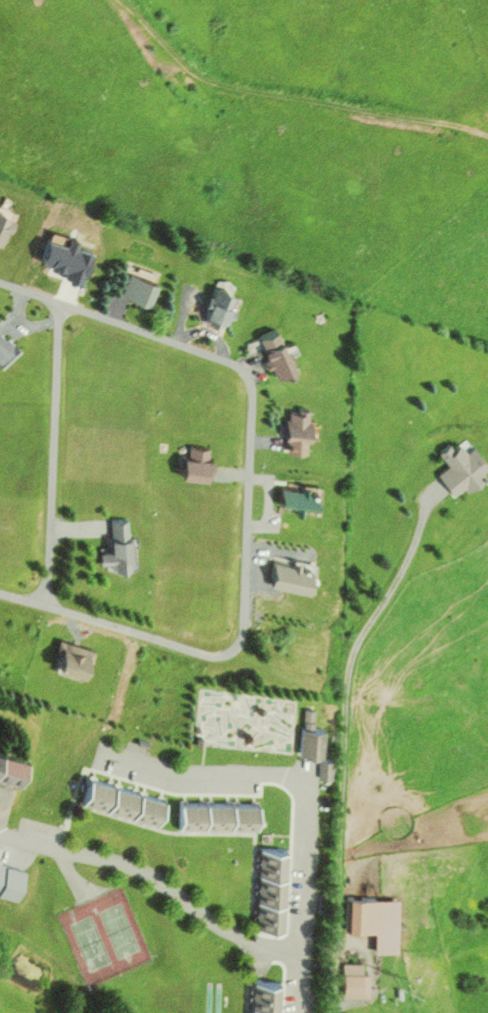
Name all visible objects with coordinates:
building: (5, 218)
building: (134, 289)
building: (217, 308)
building: (8, 352)
building: (273, 357)
building: (293, 424)
road: (53, 461)
building: (190, 462)
building: (460, 468)
road: (243, 508)
building: (114, 544)
building: (67, 656)
building: (308, 741)
building: (12, 767)
road: (295, 774)
building: (118, 802)
building: (215, 816)
road: (157, 876)
building: (372, 920)
power tower: (398, 975)
building: (353, 982)
road: (297, 985)

